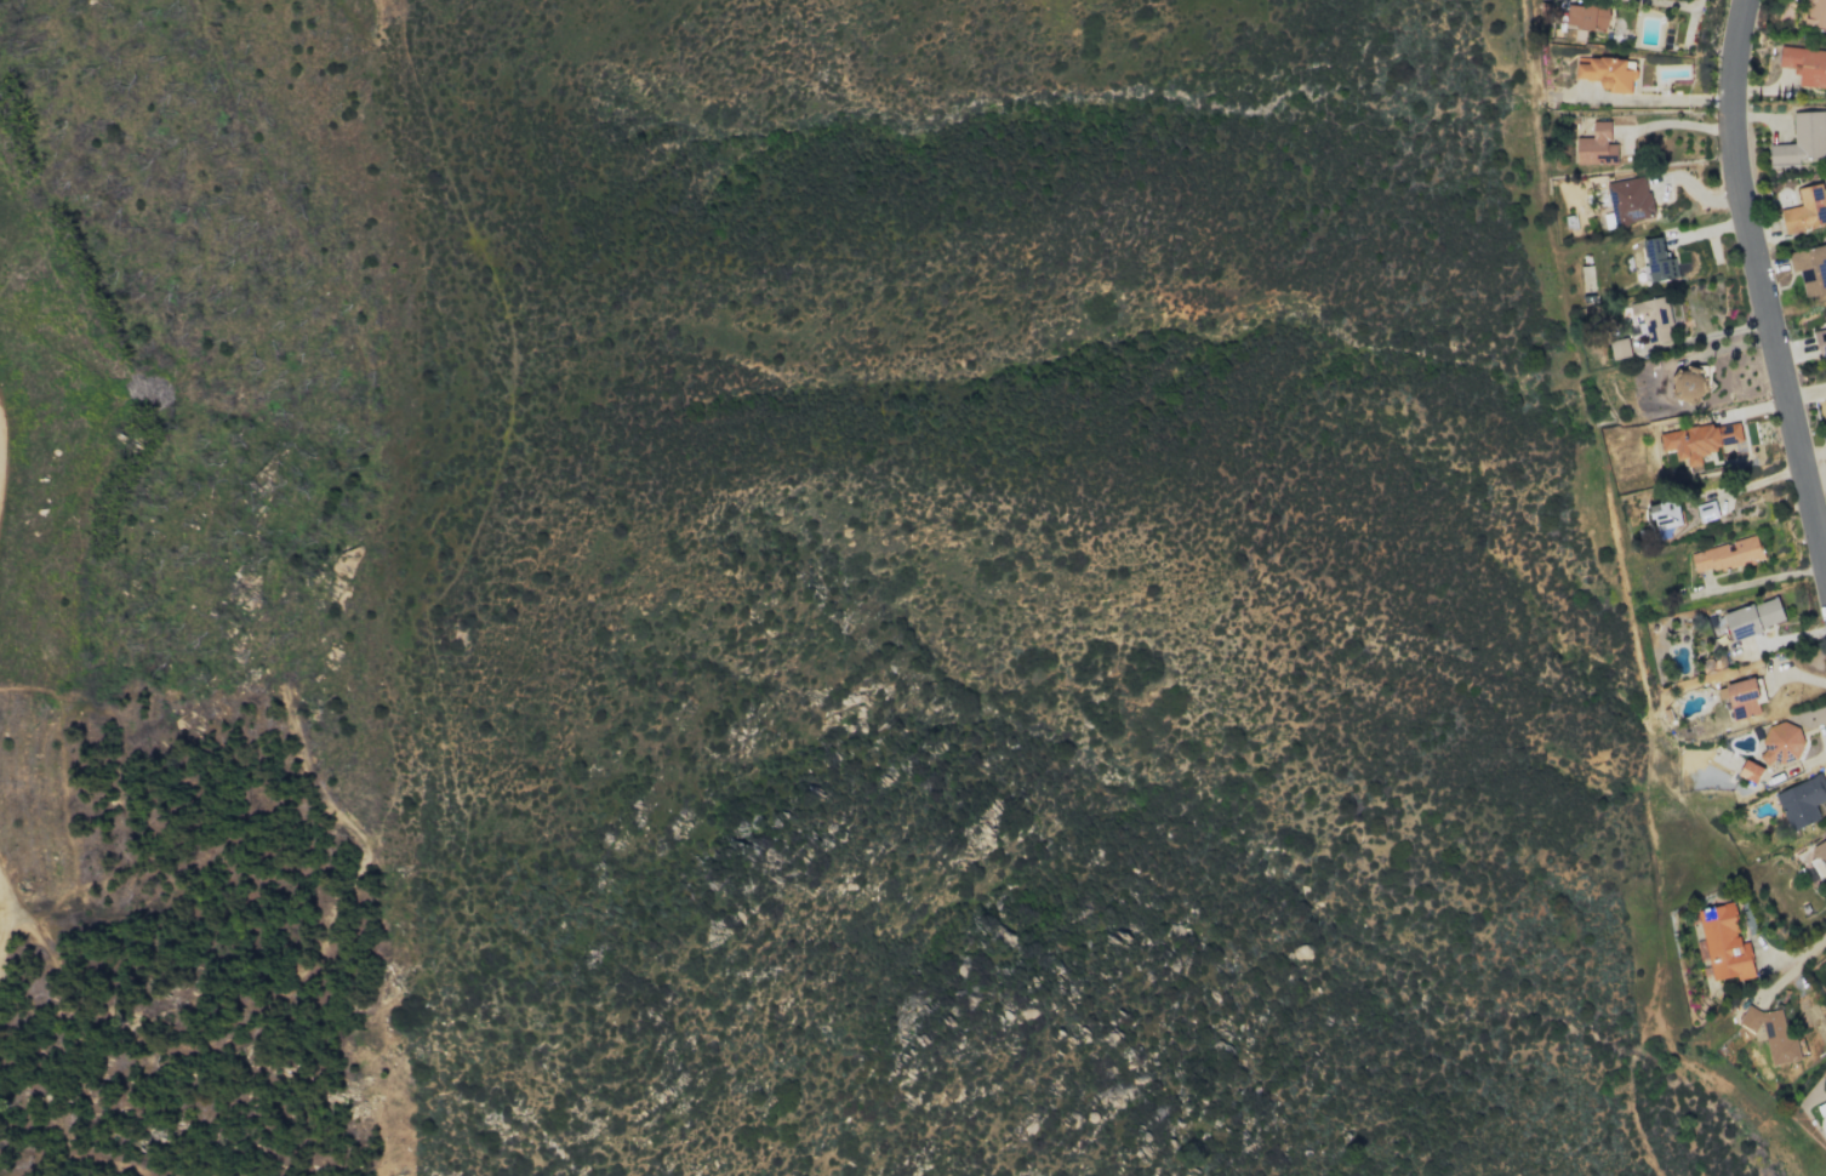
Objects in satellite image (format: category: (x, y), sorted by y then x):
road: (1679, 2)
building: (1815, 15)
building: (1587, 16)
building: (1804, 64)
building: (1608, 73)
road: (1660, 96)
road: (1672, 124)
building: (1802, 141)
building: (1596, 145)
building: (1630, 200)
building: (1805, 210)
building: (1659, 261)
building: (1810, 269)
road: (1761, 276)
building: (1825, 312)
building: (1651, 318)
building: (1820, 343)
building: (1619, 348)
building: (1688, 382)
building: (1825, 405)
road: (0, 457)
building: (1665, 514)
building: (1725, 555)
building: (1753, 617)
building: (1741, 696)
building: (1781, 742)
building: (1750, 771)
building: (1802, 801)
building: (1819, 850)
road: (5, 919)
building: (1724, 943)
road: (1798, 958)
road: (1784, 972)
building: (1774, 1034)

